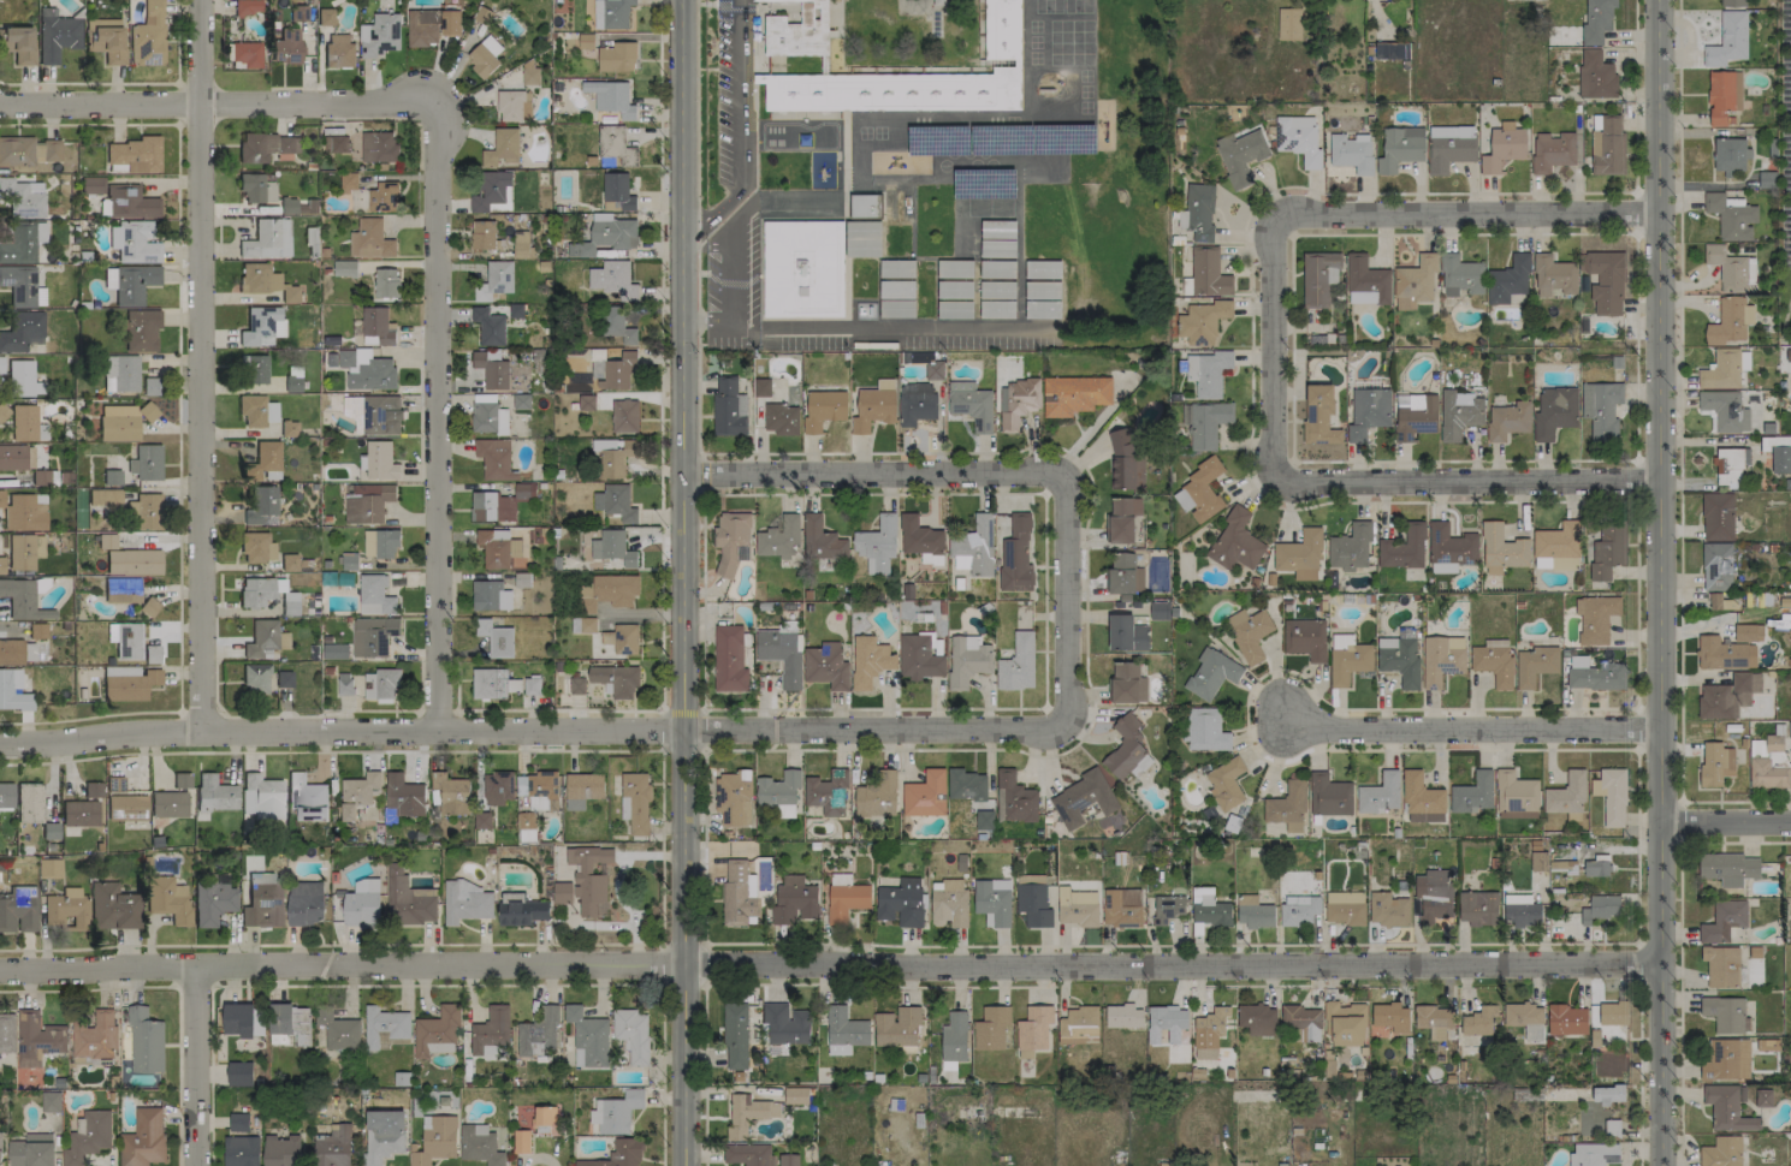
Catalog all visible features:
building: (779, 0)
building: (1732, 2)
building: (247, 6)
road: (728, 7)
building: (450, 10)
building: (611, 13)
building: (325, 17)
building: (1597, 19)
building: (1289, 24)
building: (451, 25)
building: (422, 26)
building: (57, 35)
building: (148, 35)
building: (379, 35)
building: (1728, 40)
building: (107, 41)
building: (586, 41)
road: (695, 42)
building: (18, 43)
building: (286, 46)
building: (339, 50)
building: (1392, 50)
building: (247, 53)
building: (484, 55)
building: (617, 56)
building: (530, 73)
building: (1595, 75)
building: (917, 77)
road: (127, 82)
road: (1635, 94)
building: (1722, 95)
building: (611, 97)
road: (217, 105)
building: (514, 105)
road: (737, 129)
building: (1298, 138)
building: (611, 141)
building: (336, 143)
building: (1607, 144)
building: (267, 147)
building: (378, 147)
building: (502, 147)
building: (1449, 147)
building: (1502, 147)
building: (1400, 148)
building: (28, 150)
building: (1552, 150)
building: (1352, 153)
building: (136, 154)
building: (1240, 155)
building: (1730, 155)
road: (696, 156)
building: (348, 180)
building: (91, 185)
building: (257, 186)
building: (491, 191)
building: (617, 192)
road: (1328, 194)
building: (23, 197)
building: (384, 197)
building: (130, 202)
building: (287, 206)
building: (864, 212)
building: (1198, 212)
road: (1461, 213)
road: (1637, 213)
building: (1731, 216)
road: (714, 226)
building: (482, 234)
building: (605, 234)
building: (862, 238)
building: (267, 239)
building: (369, 239)
building: (312, 240)
building: (134, 242)
building: (23, 243)
building: (521, 244)
building: (345, 268)
building: (802, 268)
building: (896, 268)
building: (954, 268)
building: (997, 268)
building: (1043, 269)
building: (1730, 269)
building: (1208, 273)
building: (1460, 275)
building: (1554, 275)
building: (1318, 278)
building: (613, 279)
building: (494, 280)
building: (1508, 280)
building: (265, 281)
building: (1366, 281)
building: (1415, 281)
building: (1606, 281)
building: (130, 282)
building: (386, 282)
road: (730, 285)
building: (22, 286)
building: (892, 290)
building: (954, 290)
building: (991, 290)
building: (896, 309)
building: (954, 309)
building: (997, 309)
building: (1043, 309)
building: (1203, 321)
building: (1730, 321)
building: (616, 325)
building: (261, 326)
building: (488, 326)
building: (376, 327)
building: (141, 329)
building: (22, 331)
road: (872, 334)
road: (1636, 346)
road: (1292, 347)
road: (1270, 350)
road: (658, 355)
building: (1, 364)
road: (201, 367)
building: (254, 369)
building: (366, 369)
building: (611, 369)
building: (933, 369)
building: (491, 370)
building: (1721, 370)
building: (120, 373)
building: (1205, 373)
building: (22, 379)
building: (292, 383)
building: (150, 386)
building: (761, 387)
building: (1074, 394)
road: (1679, 399)
building: (521, 401)
building: (586, 401)
building: (1018, 401)
building: (915, 403)
building: (971, 404)
building: (729, 406)
building: (873, 406)
building: (824, 409)
building: (1601, 409)
building: (251, 410)
building: (354, 410)
building: (1725, 410)
building: (2, 411)
building: (148, 411)
building: (271, 411)
building: (1369, 412)
building: (1554, 412)
road: (433, 414)
building: (1459, 414)
building: (381, 415)
building: (1319, 415)
building: (1415, 415)
building: (624, 416)
road: (178, 418)
building: (488, 418)
building: (781, 418)
building: (1508, 421)
building: (1205, 422)
building: (25, 423)
building: (119, 428)
building: (289, 428)
building: (13, 454)
building: (613, 456)
building: (1779, 457)
building: (494, 459)
building: (263, 460)
building: (380, 460)
building: (146, 462)
building: (1125, 462)
building: (1730, 465)
road: (870, 471)
road: (704, 474)
building: (113, 477)
road: (1637, 478)
road: (1466, 483)
building: (1200, 490)
building: (113, 496)
road: (1409, 501)
building: (367, 502)
building: (615, 502)
building: (260, 504)
building: (498, 504)
building: (23, 511)
building: (144, 511)
building: (1718, 517)
building: (1122, 518)
building: (779, 539)
building: (820, 539)
building: (730, 540)
building: (920, 540)
building: (107, 541)
building: (1235, 541)
building: (380, 543)
building: (877, 545)
building: (973, 546)
building: (612, 547)
building: (1350, 547)
building: (1558, 547)
building: (256, 548)
building: (1404, 548)
building: (1449, 548)
building: (1502, 549)
building: (1608, 549)
building: (24, 551)
building: (1015, 555)
building: (1299, 555)
building: (134, 561)
building: (349, 561)
building: (290, 563)
building: (1, 565)
building: (1716, 566)
building: (1125, 573)
building: (522, 579)
road: (1659, 582)
road: (682, 583)
building: (123, 589)
building: (615, 589)
building: (255, 591)
building: (374, 595)
building: (490, 595)
building: (20, 599)
road: (1062, 601)
building: (1718, 601)
road: (1637, 602)
building: (290, 603)
building: (149, 606)
building: (1158, 609)
building: (1595, 618)
building: (583, 625)
building: (788, 626)
building: (37, 630)
building: (1249, 632)
building: (1748, 632)
building: (1126, 633)
building: (372, 636)
building: (261, 637)
building: (496, 638)
building: (622, 638)
building: (1305, 638)
building: (127, 641)
building: (334, 650)
building: (11, 652)
building: (1720, 653)
building: (152, 654)
building: (781, 655)
building: (919, 658)
building: (729, 659)
building: (1399, 659)
building: (1442, 659)
building: (967, 660)
building: (868, 661)
building: (1494, 661)
building: (1350, 662)
building: (1016, 664)
building: (1535, 665)
building: (825, 666)
building: (1211, 673)
building: (1595, 674)
building: (255, 678)
building: (284, 678)
building: (615, 679)
building: (129, 683)
building: (492, 683)
building: (1127, 683)
building: (344, 684)
building: (381, 684)
building: (532, 685)
building: (576, 685)
building: (13, 690)
building: (1727, 695)
road: (1042, 707)
road: (535, 709)
road: (681, 710)
road: (1246, 710)
road: (198, 714)
road: (318, 714)
road: (435, 714)
road: (1638, 726)
building: (1205, 730)
road: (1473, 730)
road: (533, 732)
building: (1125, 746)
road: (425, 750)
building: (1768, 763)
building: (1715, 765)
building: (182, 780)
building: (1226, 783)
building: (966, 785)
building: (497, 787)
building: (536, 787)
building: (93, 789)
building: (582, 789)
road: (702, 789)
building: (828, 791)
building: (357, 792)
building: (778, 792)
building: (451, 793)
building: (1380, 793)
building: (1472, 793)
building: (1566, 793)
building: (6, 795)
building: (403, 795)
building: (925, 795)
building: (261, 796)
building: (877, 796)
building: (1329, 796)
building: (1516, 796)
building: (1611, 796)
building: (307, 797)
building: (734, 797)
building: (1015, 797)
building: (1083, 798)
building: (1422, 799)
building: (29, 802)
road: (1734, 802)
building: (168, 803)
building: (635, 804)
building: (126, 807)
building: (1288, 807)
building: (79, 813)
building: (482, 820)
building: (984, 820)
road: (1680, 821)
road: (1725, 826)
building: (51, 831)
road: (1638, 845)
building: (1538, 861)
building: (48, 865)
building: (1595, 868)
building: (1727, 868)
building: (840, 879)
building: (588, 882)
building: (737, 893)
building: (1433, 896)
building: (166, 898)
building: (408, 898)
building: (794, 900)
building: (213, 902)
building: (263, 902)
building: (465, 902)
building: (846, 902)
building: (901, 902)
building: (992, 902)
building: (304, 903)
building: (948, 903)
building: (362, 904)
building: (1033, 904)
building: (111, 906)
building: (1077, 906)
building: (1344, 906)
building: (17, 908)
building: (1121, 908)
building: (1168, 908)
building: (1209, 908)
building: (1388, 908)
building: (1478, 908)
building: (1600, 908)
building: (65, 909)
building: (521, 909)
building: (1520, 910)
building: (1253, 911)
building: (1299, 911)
building: (1724, 921)
road: (330, 944)
road: (829, 964)
road: (1639, 964)
building: (1721, 965)
road: (437, 986)
road: (176, 988)
road: (1680, 1005)
building: (1613, 1013)
building: (1725, 1013)
building: (1122, 1016)
building: (1392, 1017)
building: (1167, 1018)
building: (238, 1019)
building: (289, 1019)
building: (1257, 1019)
building: (1434, 1019)
building: (1525, 1019)
building: (1567, 1019)
building: (1479, 1021)
building: (1301, 1022)
building: (784, 1023)
building: (1345, 1023)
building: (384, 1025)
building: (1079, 1025)
building: (897, 1027)
building: (991, 1028)
building: (1033, 1029)
building: (339, 1030)
building: (844, 1030)
building: (437, 1031)
building: (491, 1031)
building: (1209, 1031)
building: (6, 1033)
building: (538, 1033)
building: (631, 1034)
building: (735, 1036)
building: (954, 1036)
building: (36, 1037)
building: (95, 1037)
building: (588, 1037)
building: (146, 1041)
building: (2, 1058)
building: (1725, 1059)
road: (191, 1065)
building: (239, 1073)
road: (1639, 1077)
building: (1608, 1094)
building: (795, 1095)
building: (1763, 1097)
building: (51, 1101)
building: (1727, 1108)
building: (616, 1112)
building: (747, 1113)
building: (545, 1119)
building: (238, 1122)
building: (1611, 1128)
building: (382, 1135)
building: (88, 1136)
building: (143, 1138)
building: (435, 1140)
building: (521, 1141)
building: (479, 1144)
building: (333, 1147)
building: (0, 1149)
building: (31, 1150)
building: (241, 1150)
building: (281, 1150)
building: (1721, 1152)
building: (618, 1154)
building: (747, 1154)
building: (1593, 1154)
building: (788, 1159)

